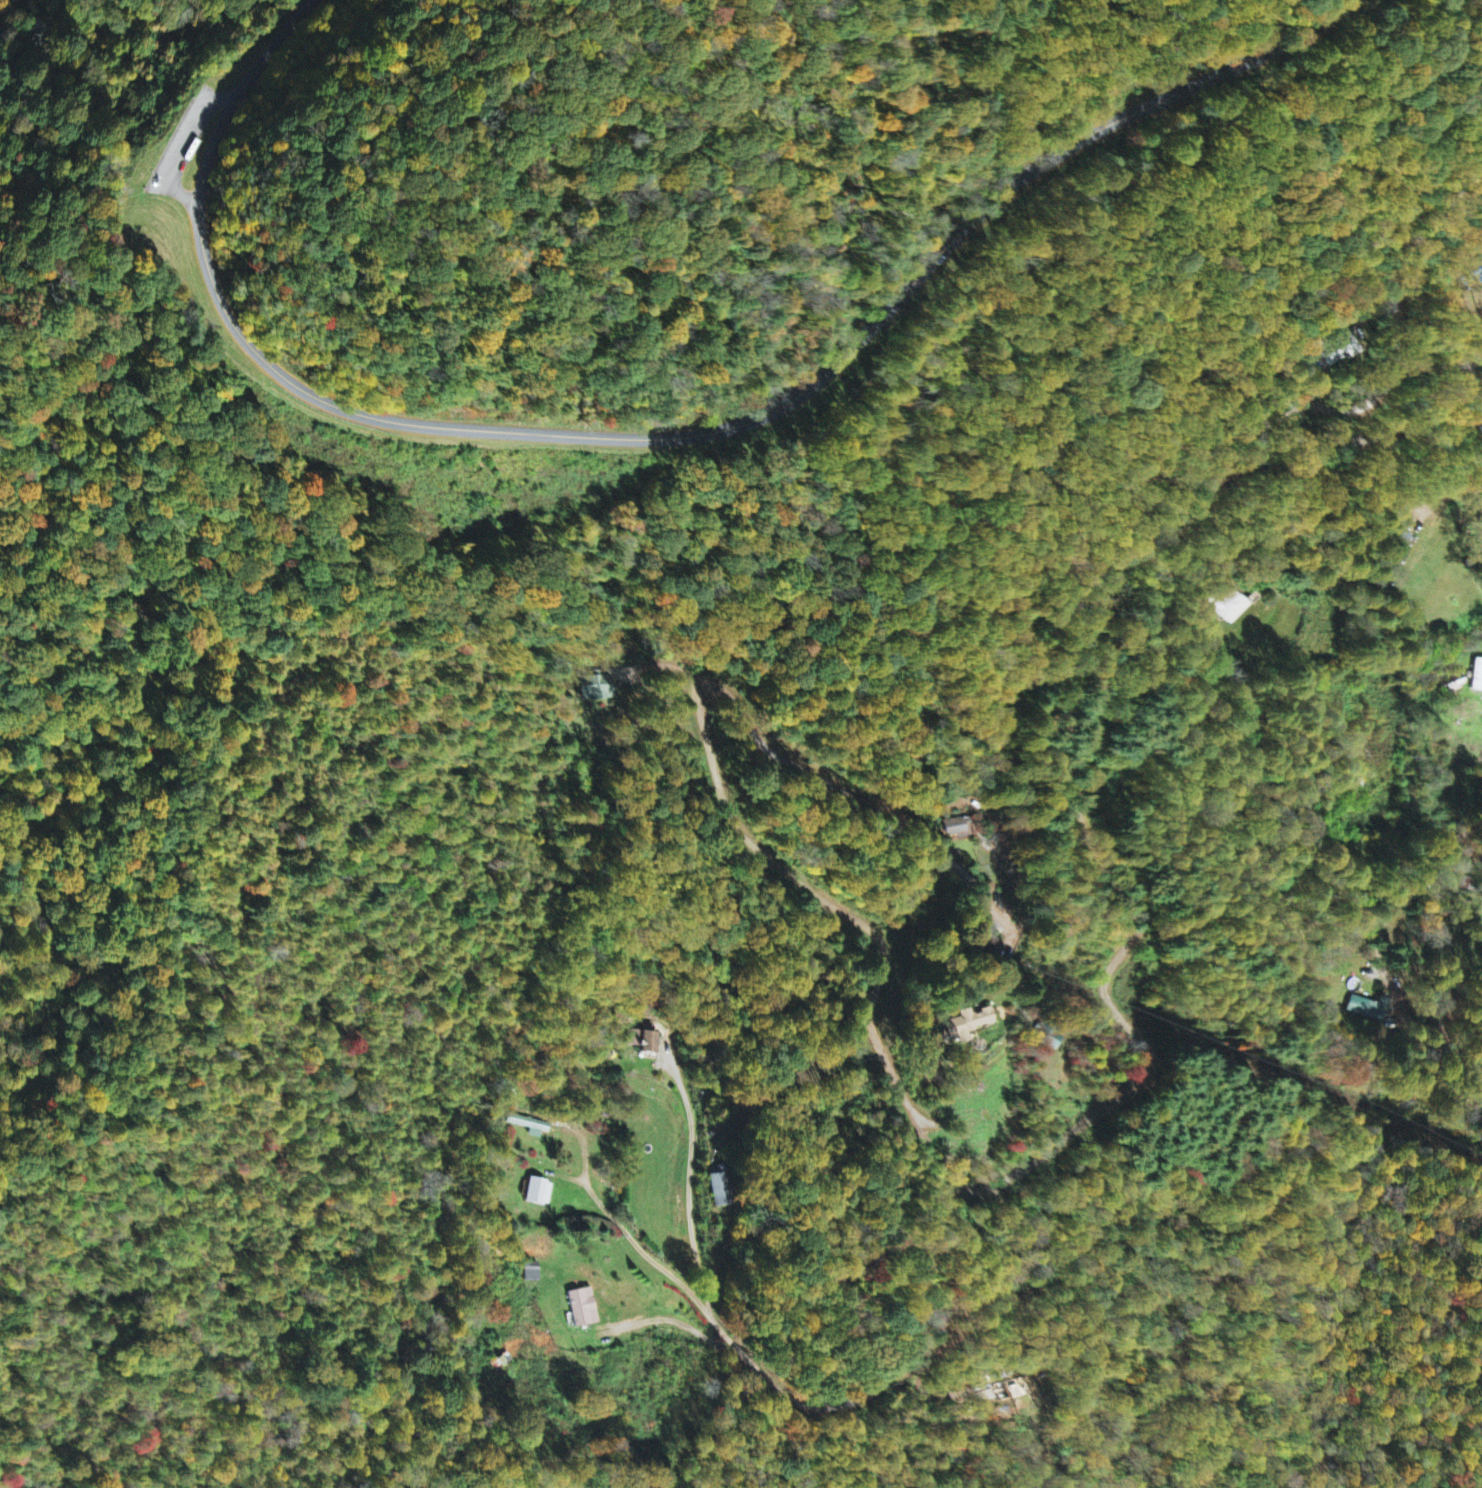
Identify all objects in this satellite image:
road: (225, 99)
parking lot: (188, 142)
road: (186, 143)
road: (1399, 326)
road: (1399, 427)
road: (668, 437)
building: (1477, 676)
building: (593, 688)
road: (894, 816)
building: (962, 1026)
building: (644, 1043)
building: (536, 1193)
road: (1100, 1220)
building: (531, 1272)
building: (582, 1308)

